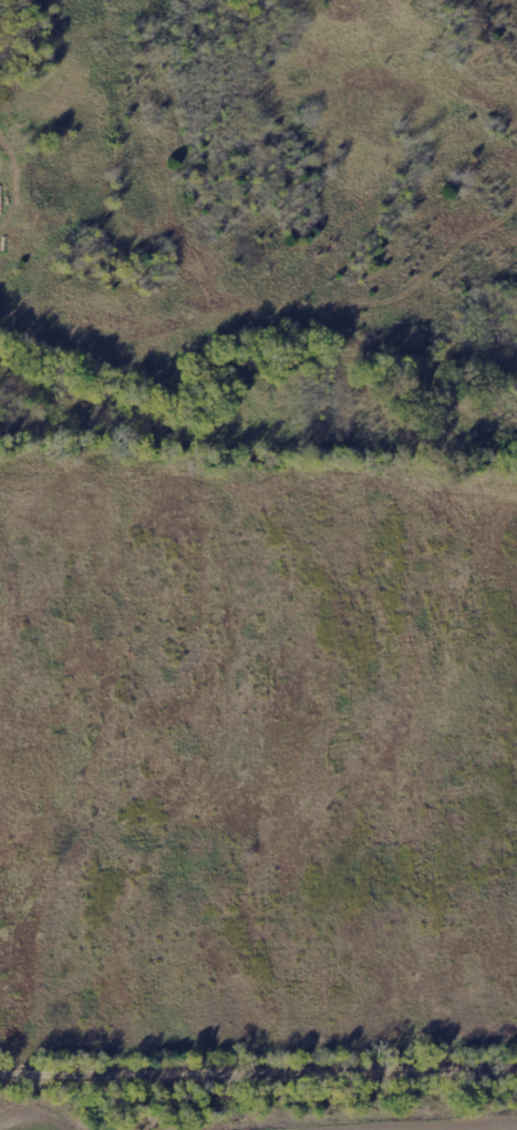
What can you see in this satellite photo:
road: (258, 1060)

